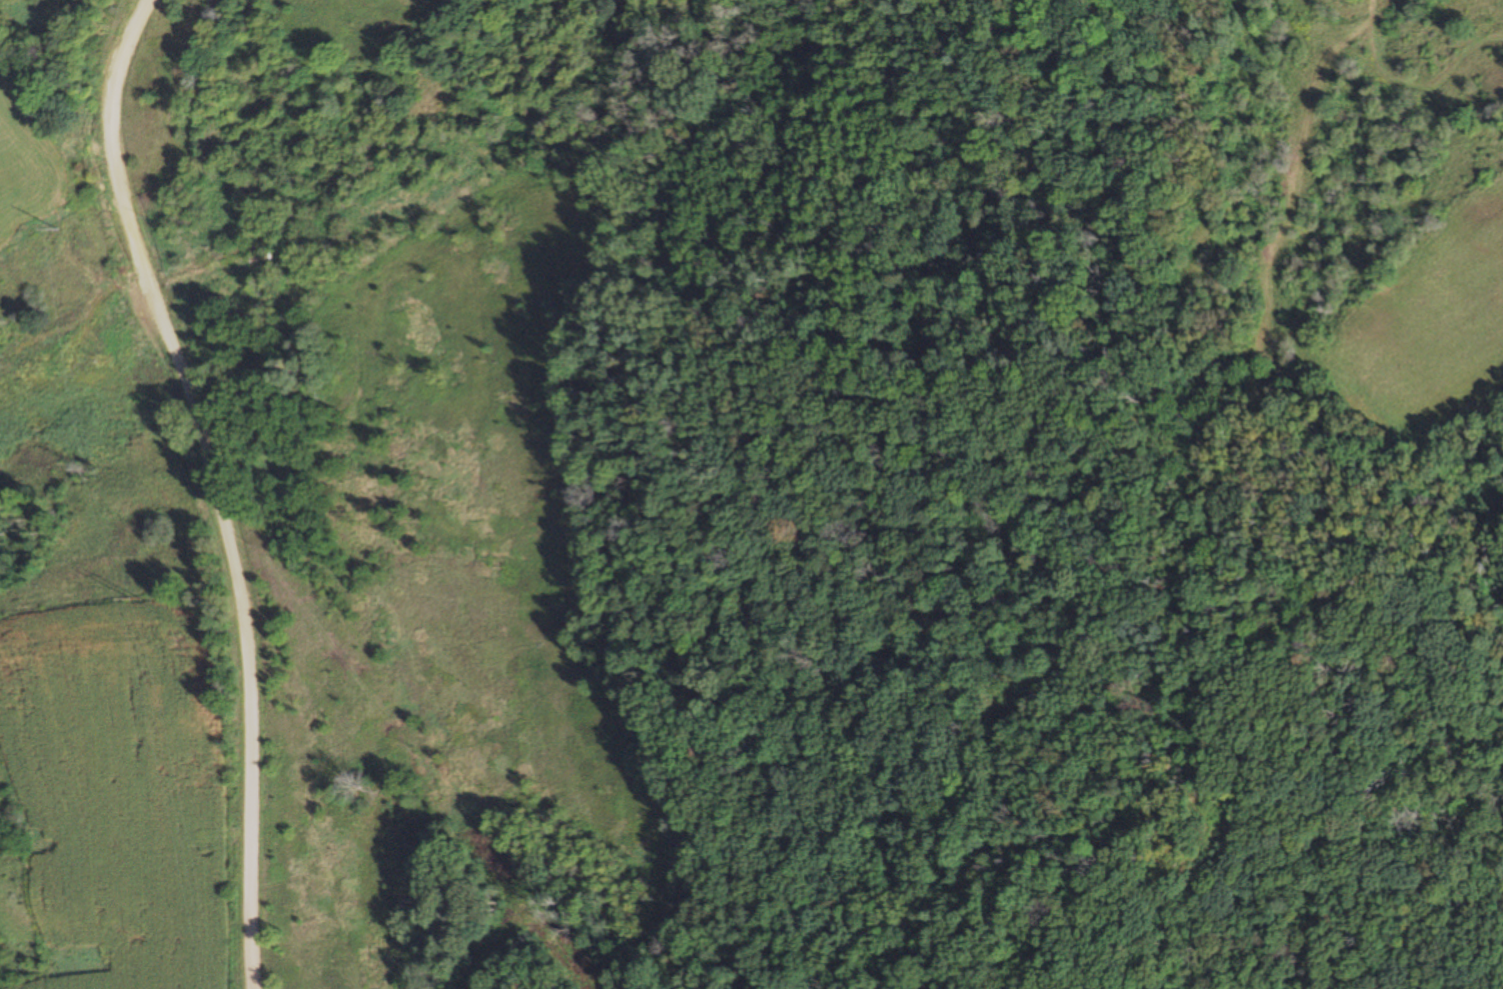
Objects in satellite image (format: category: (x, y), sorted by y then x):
road: (186, 486)
power tower: (135, 594)

